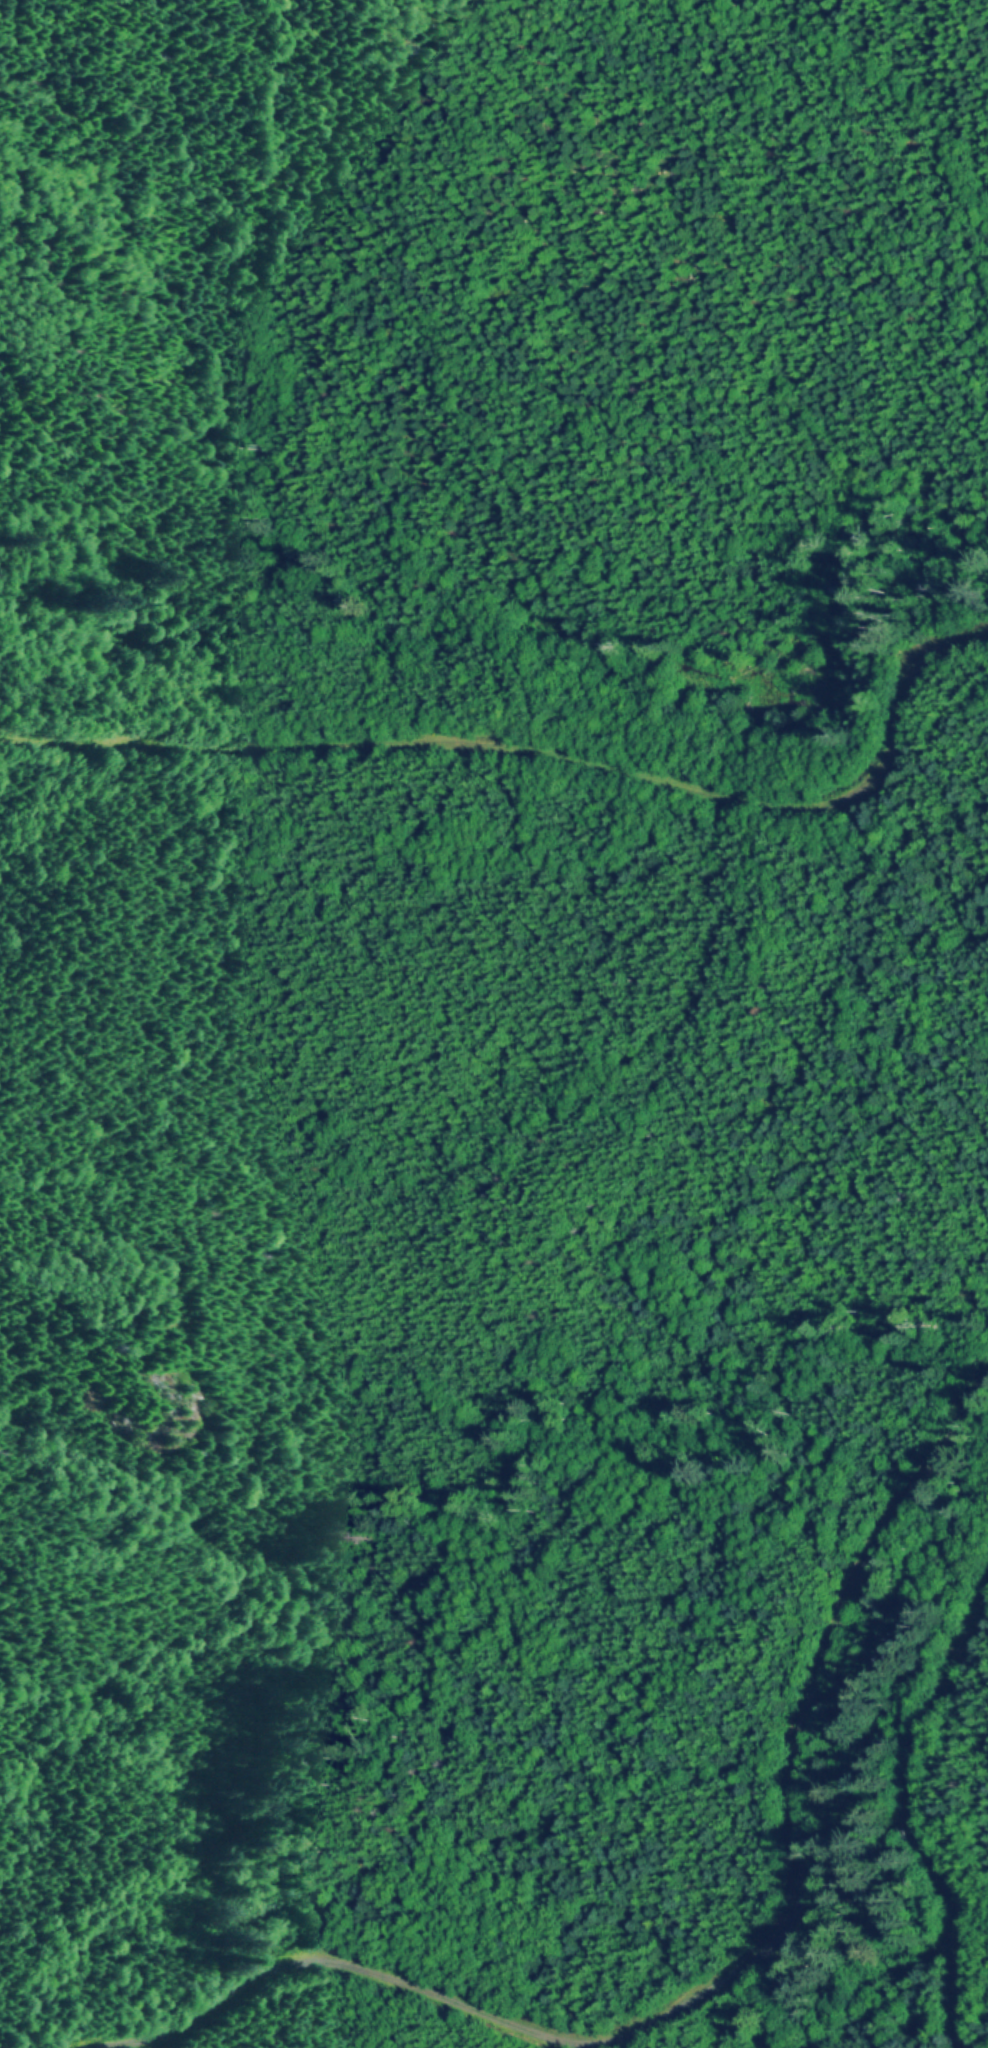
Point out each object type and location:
road: (533, 805)
road: (784, 1708)
road: (304, 2001)

